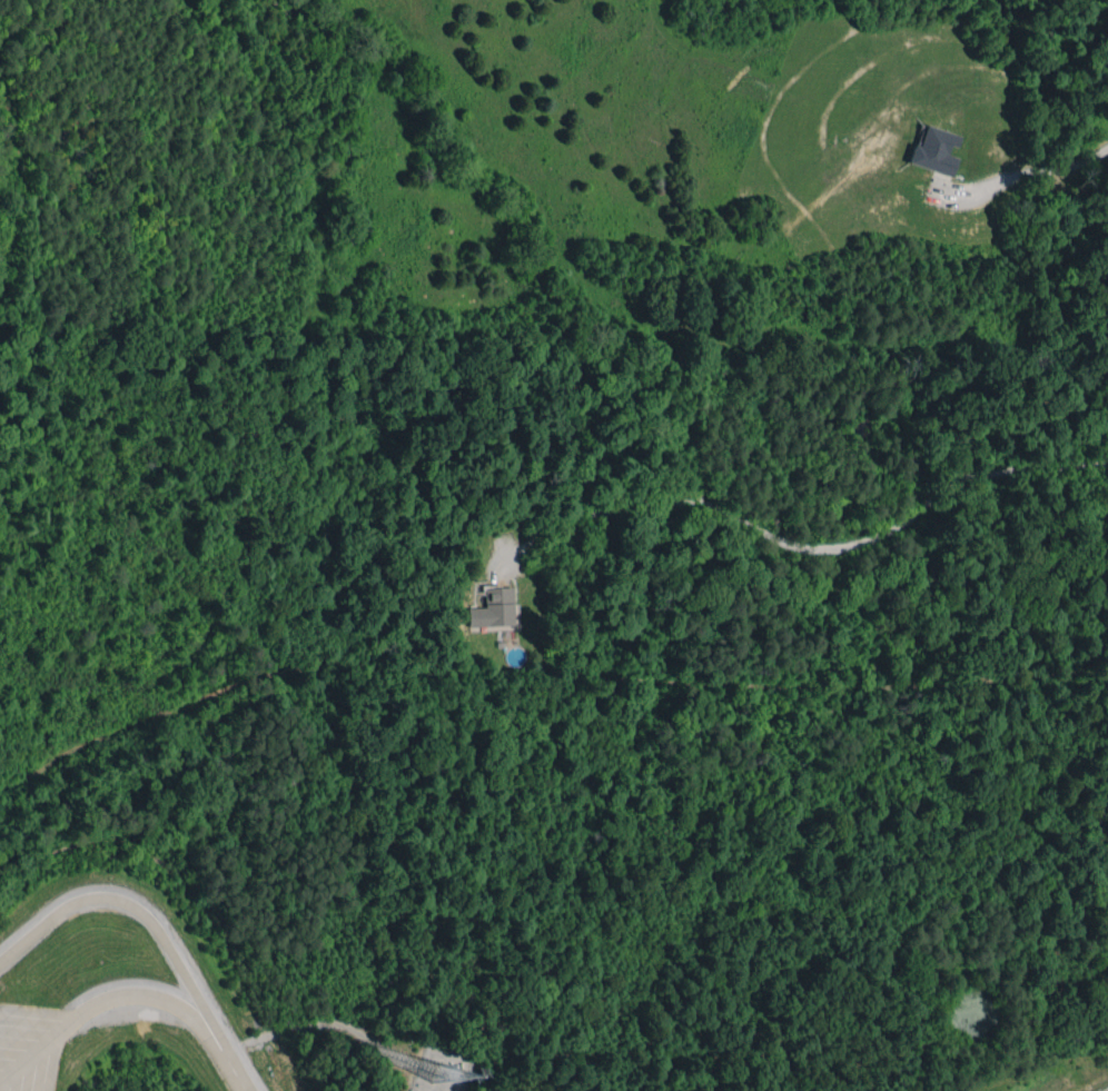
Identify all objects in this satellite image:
building: (936, 150)
road: (1032, 176)
road: (817, 548)
building: (493, 607)
road: (150, 925)
road: (126, 995)
road: (39, 1008)
road: (48, 1057)
road: (241, 1085)

